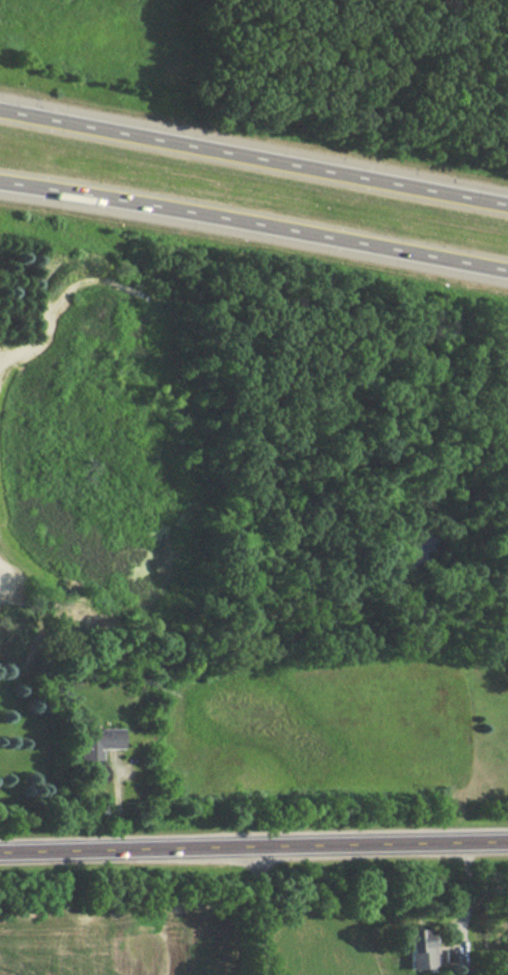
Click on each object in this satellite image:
road: (253, 157)
road: (254, 218)
building: (93, 743)
road: (253, 843)
road: (467, 895)
road: (261, 908)
crop: (115, 942)
building: (414, 948)

